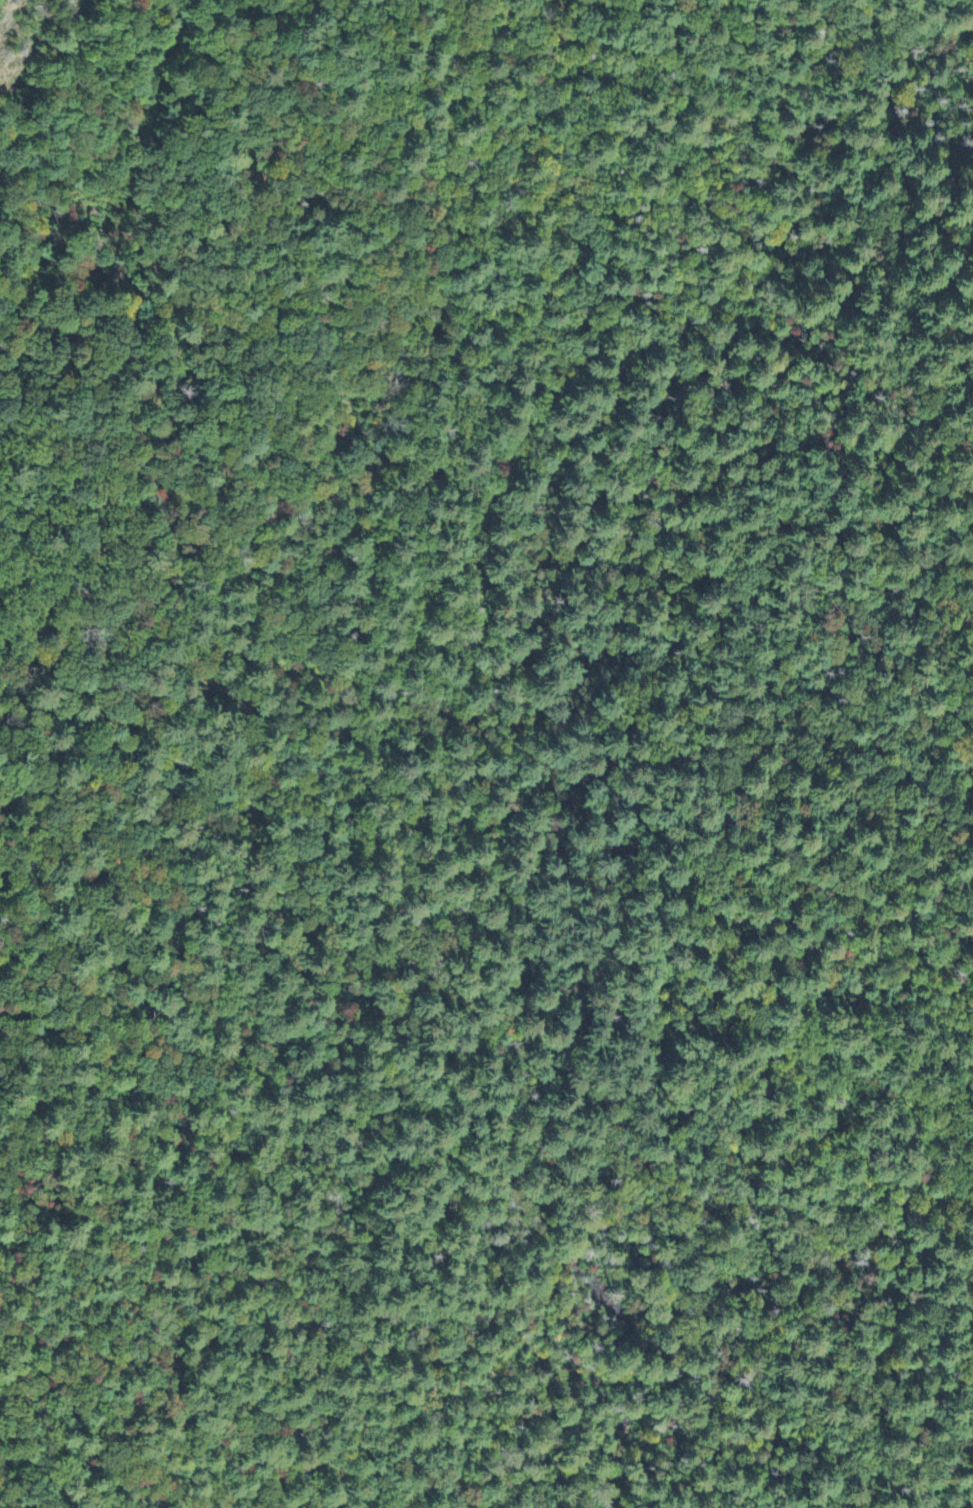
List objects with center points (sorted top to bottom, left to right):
road: (48, 1242)

